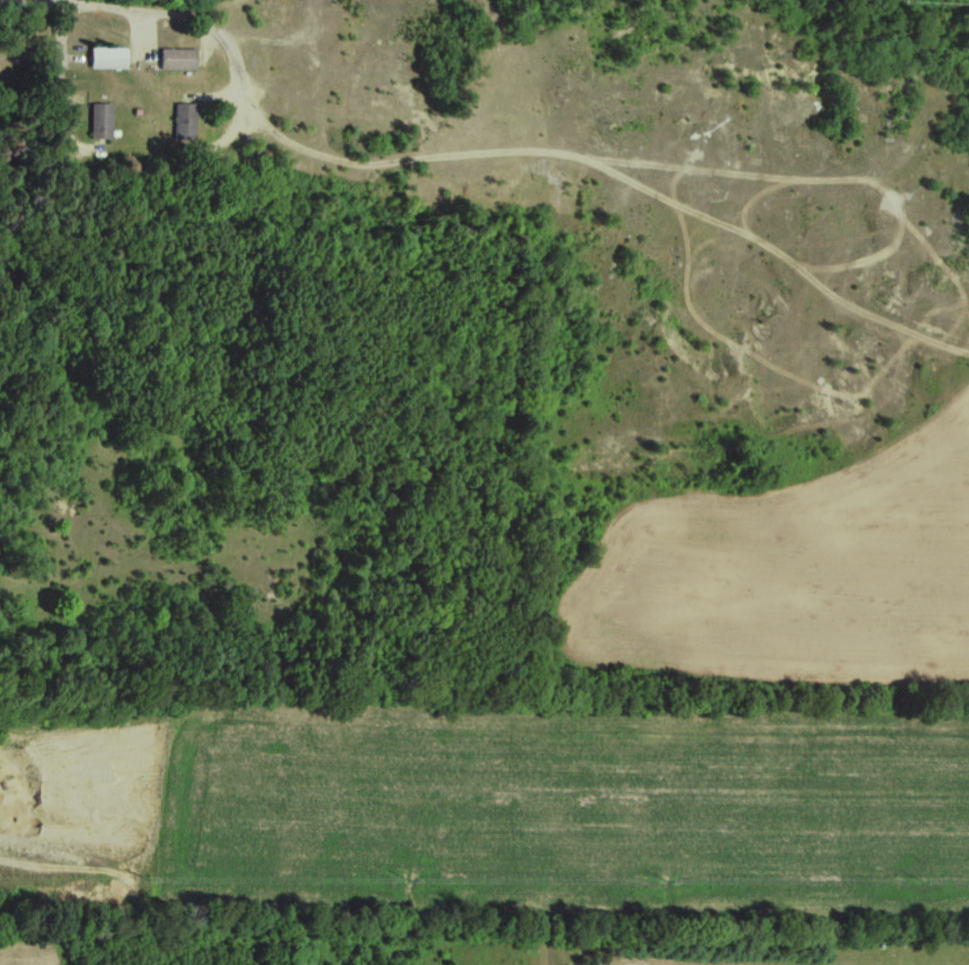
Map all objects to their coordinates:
building: (110, 58)
building: (179, 59)
road: (241, 67)
road: (61, 76)
building: (102, 122)
building: (187, 122)
road: (149, 567)

